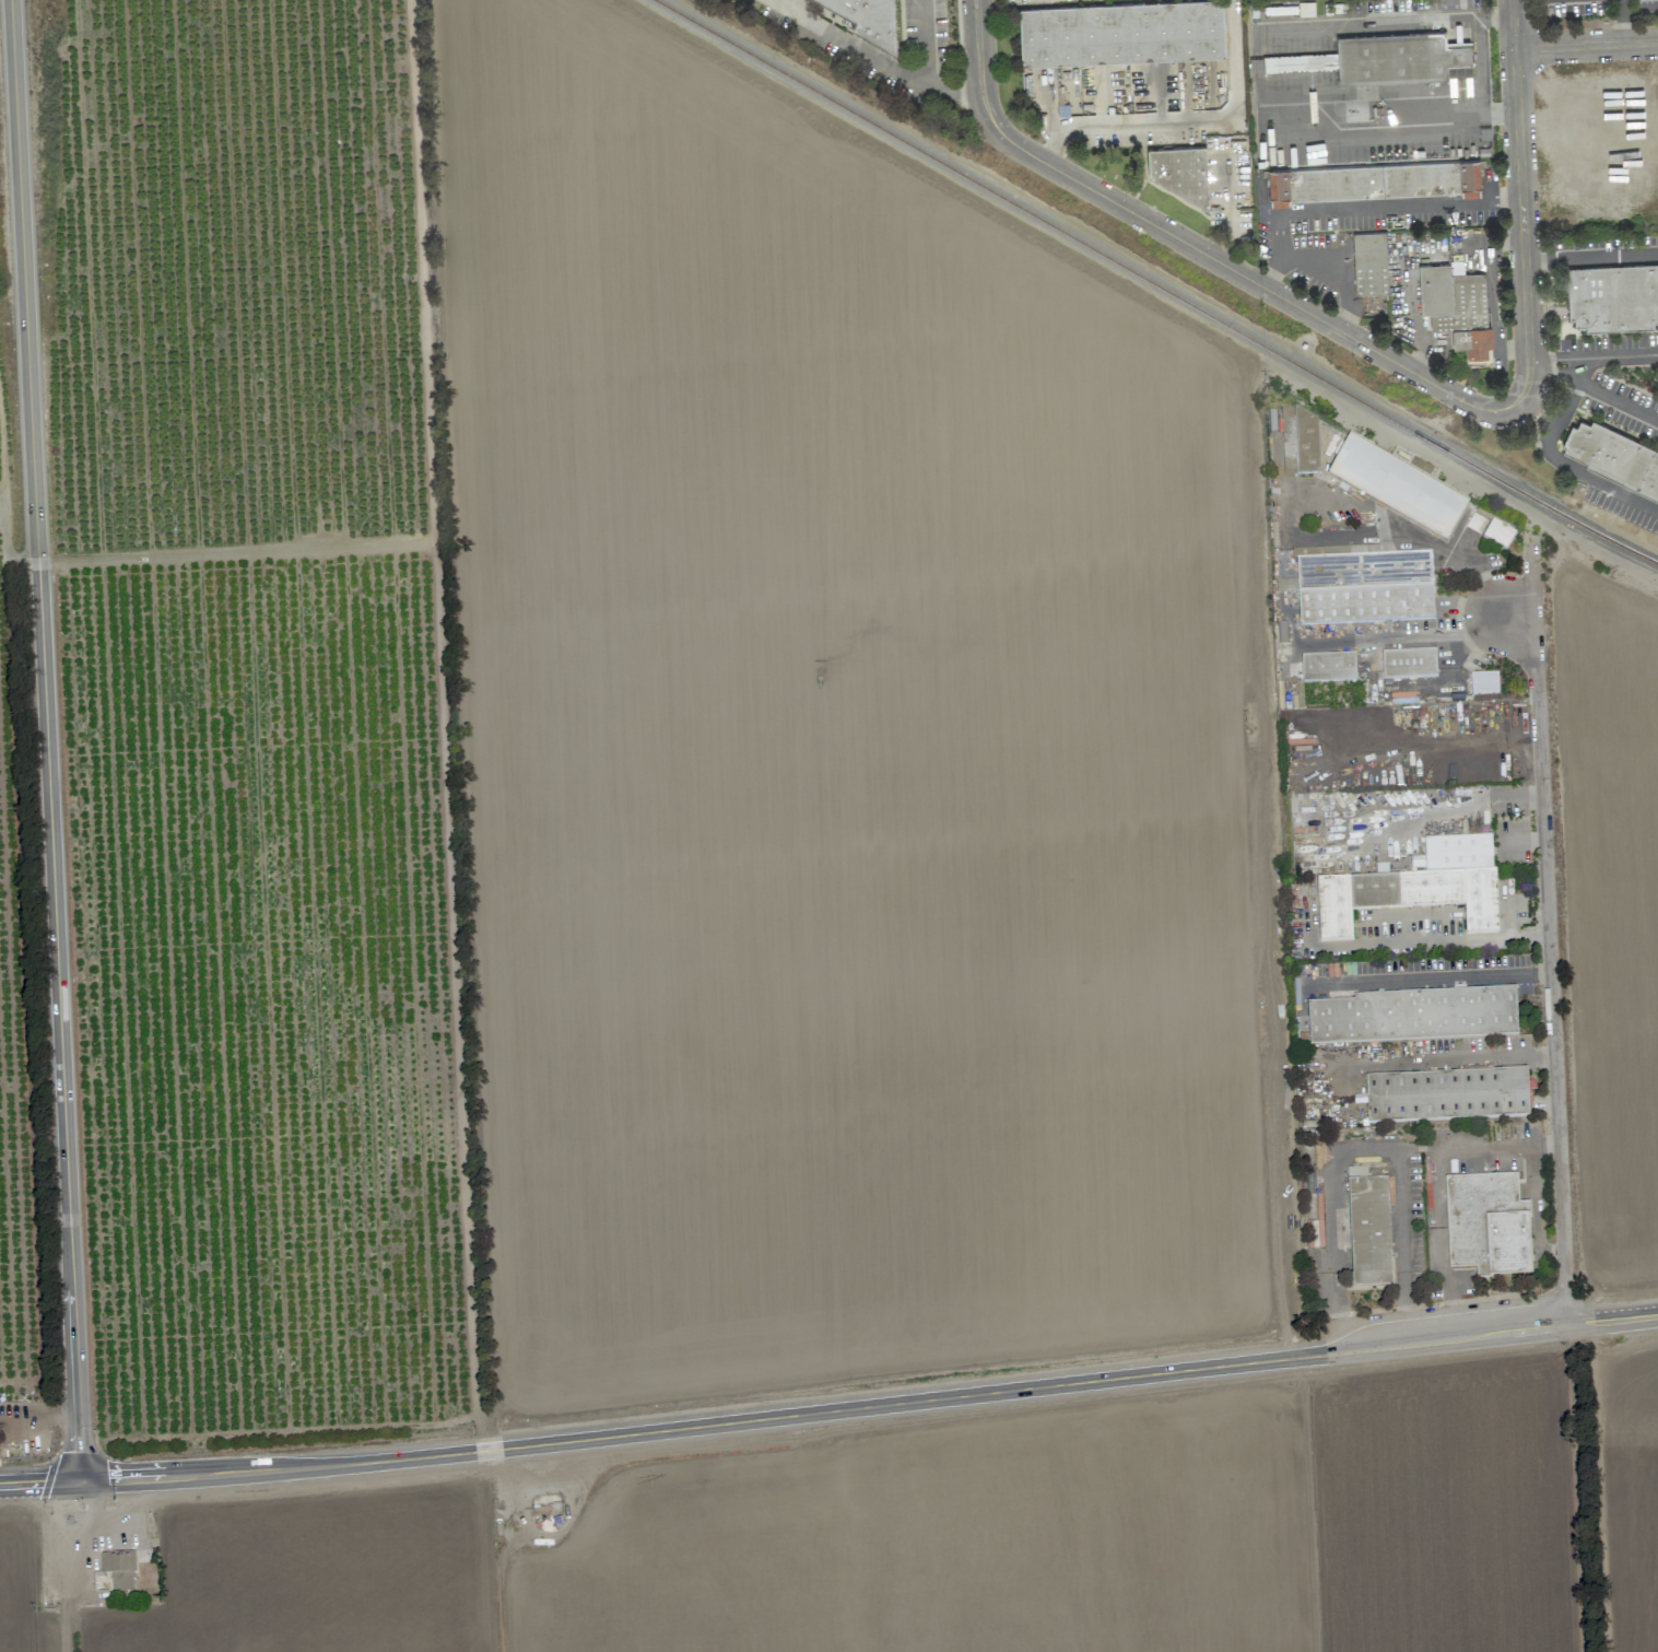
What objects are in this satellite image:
building: (869, 19)
road: (1374, 20)
road: (977, 32)
building: (1121, 33)
road: (921, 42)
road: (1586, 46)
road: (1484, 56)
road: (877, 57)
building: (1381, 58)
road: (980, 81)
road: (1053, 106)
road: (1176, 124)
road: (1392, 136)
road: (1056, 148)
building: (1177, 171)
road: (1520, 200)
road: (1364, 209)
railway: (1095, 250)
road: (1590, 259)
building: (1369, 263)
road: (1242, 274)
road: (1337, 280)
road: (1495, 296)
building: (1613, 297)
building: (1457, 309)
road: (1424, 347)
road: (1565, 359)
road: (1621, 360)
road: (1541, 362)
road: (1581, 362)
road: (1566, 371)
road: (1618, 400)
building: (1300, 443)
building: (1612, 460)
road: (1560, 461)
building: (1397, 489)
railway: (1597, 532)
road: (1449, 550)
building: (1285, 585)
building: (1363, 585)
road: (1470, 630)
road: (1368, 640)
road: (1471, 652)
building: (1409, 664)
building: (1328, 667)
building: (1484, 683)
road: (1398, 687)
road: (46, 740)
road: (1497, 792)
building: (1418, 887)
crop: (691, 906)
road: (1448, 941)
road: (1551, 964)
road: (1431, 980)
building: (1414, 1016)
fountain: (1539, 1076)
building: (1447, 1096)
road: (1473, 1147)
road: (1360, 1153)
road: (1539, 1207)
building: (1488, 1225)
building: (1368, 1229)
road: (1439, 1246)
road: (828, 1407)
road: (35, 1418)
traffic signals: (79, 1483)
road: (1577, 1491)
road: (72, 1563)
building: (118, 1569)

